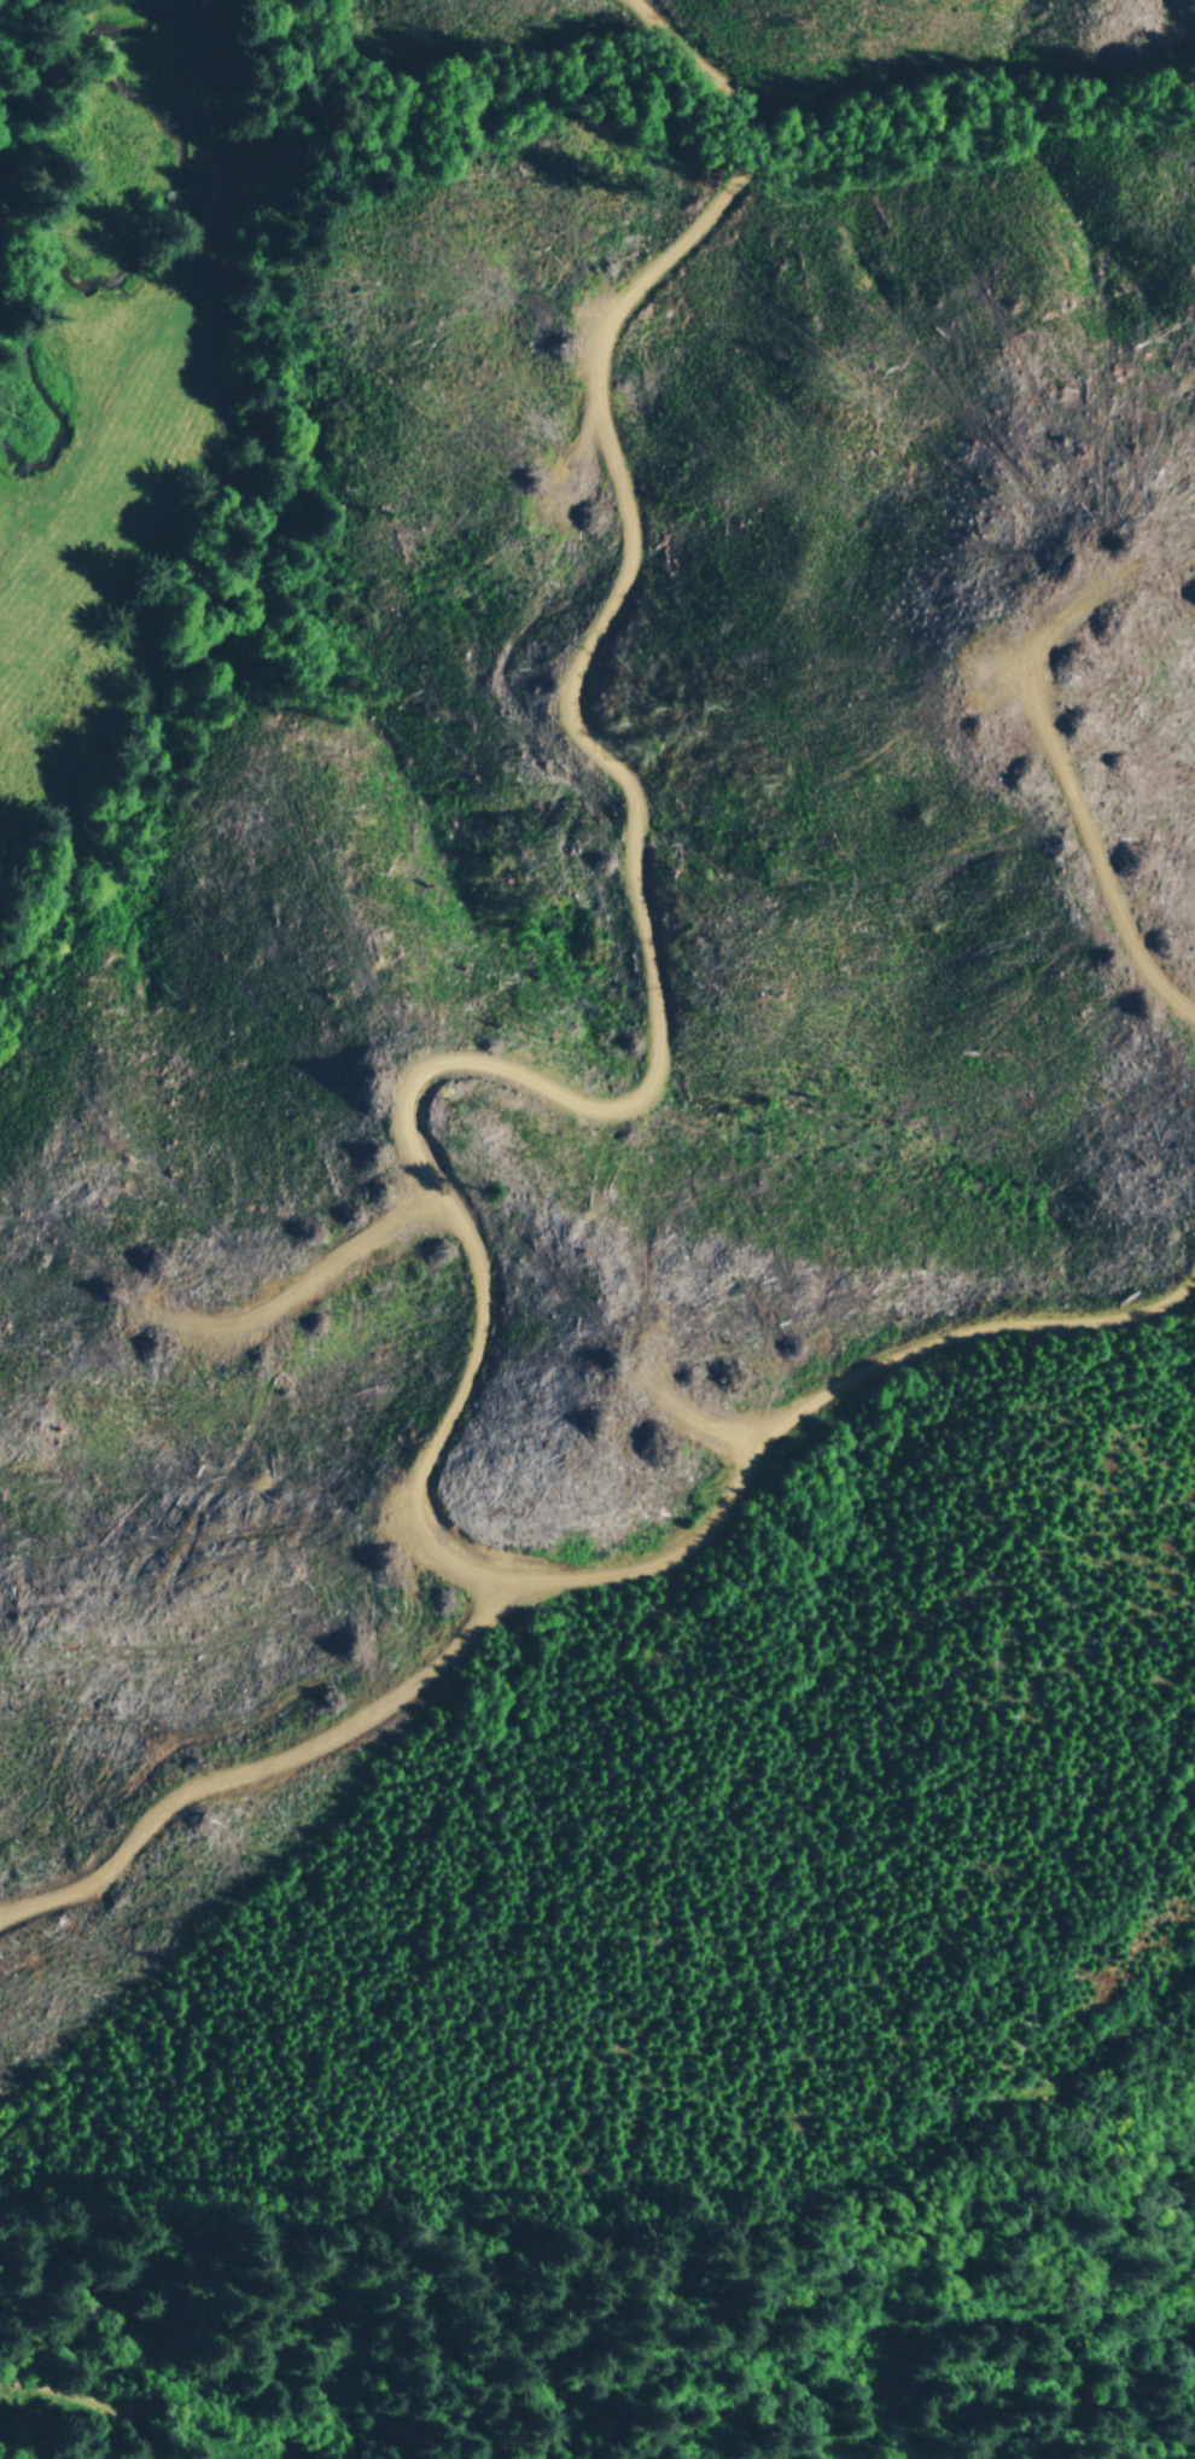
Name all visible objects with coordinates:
crop: (75, 540)
road: (579, 1104)

